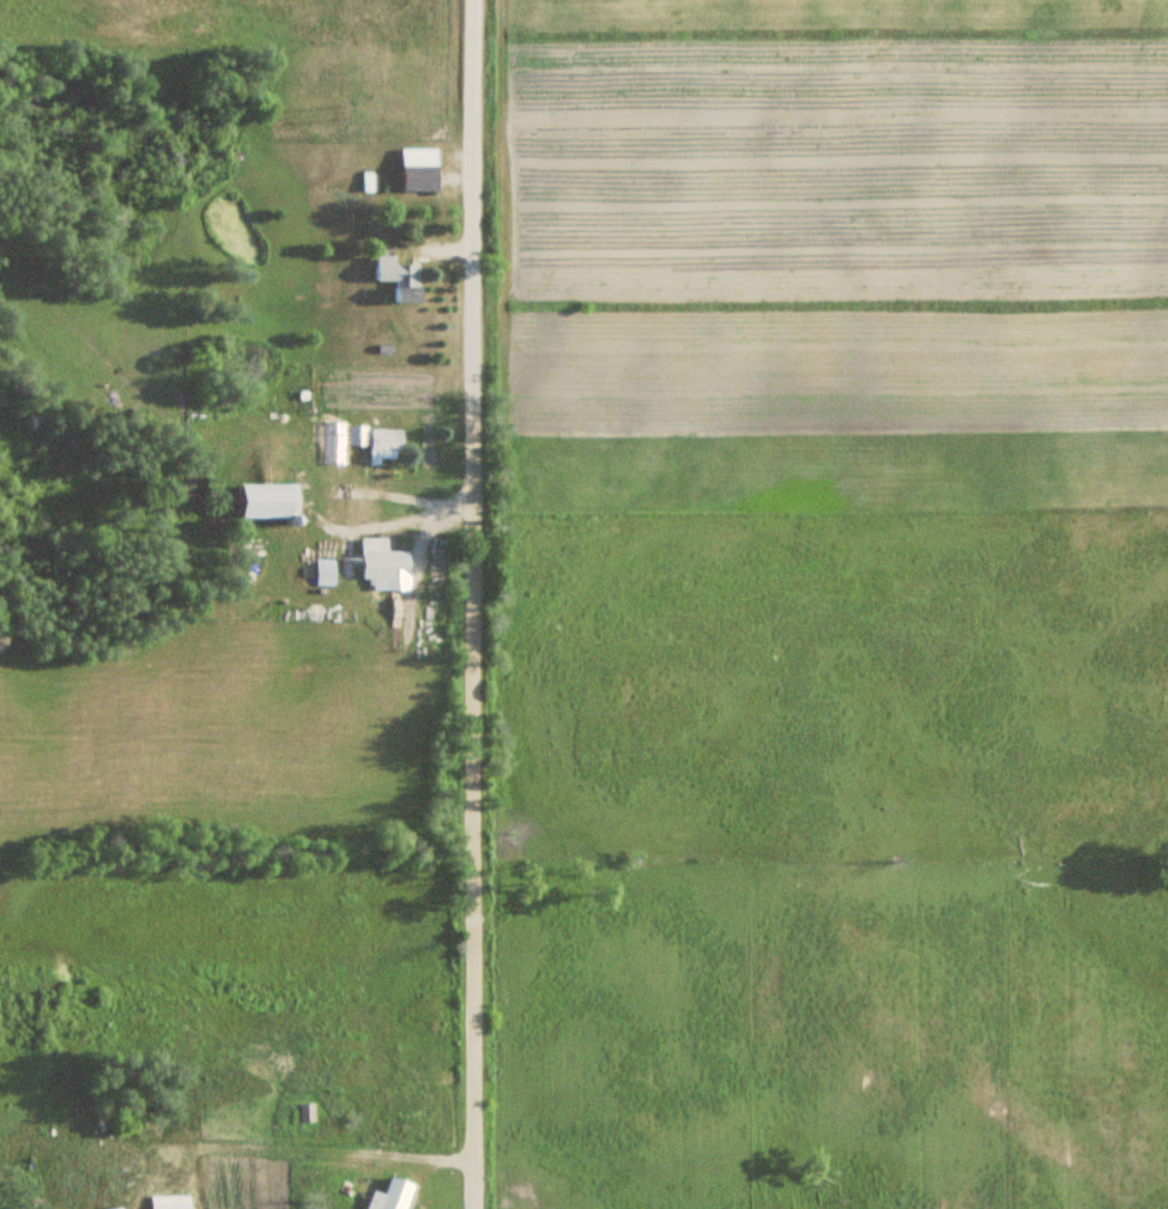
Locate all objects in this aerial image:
building: (420, 170)
building: (400, 278)
building: (385, 443)
building: (272, 502)
building: (385, 562)
road: (468, 604)
building: (308, 1112)
building: (397, 1195)
building: (174, 1202)

